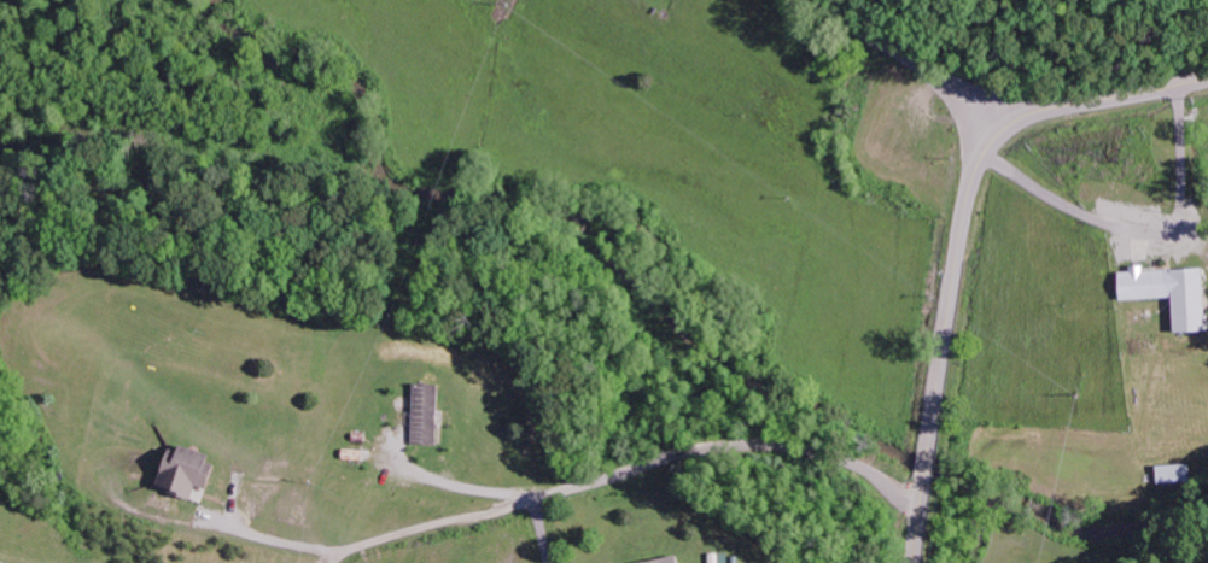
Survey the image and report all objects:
road: (926, 58)
road: (1189, 130)
road: (958, 236)
building: (1165, 292)
building: (421, 414)
building: (177, 471)
building: (1173, 473)
building: (717, 557)
building: (663, 559)

